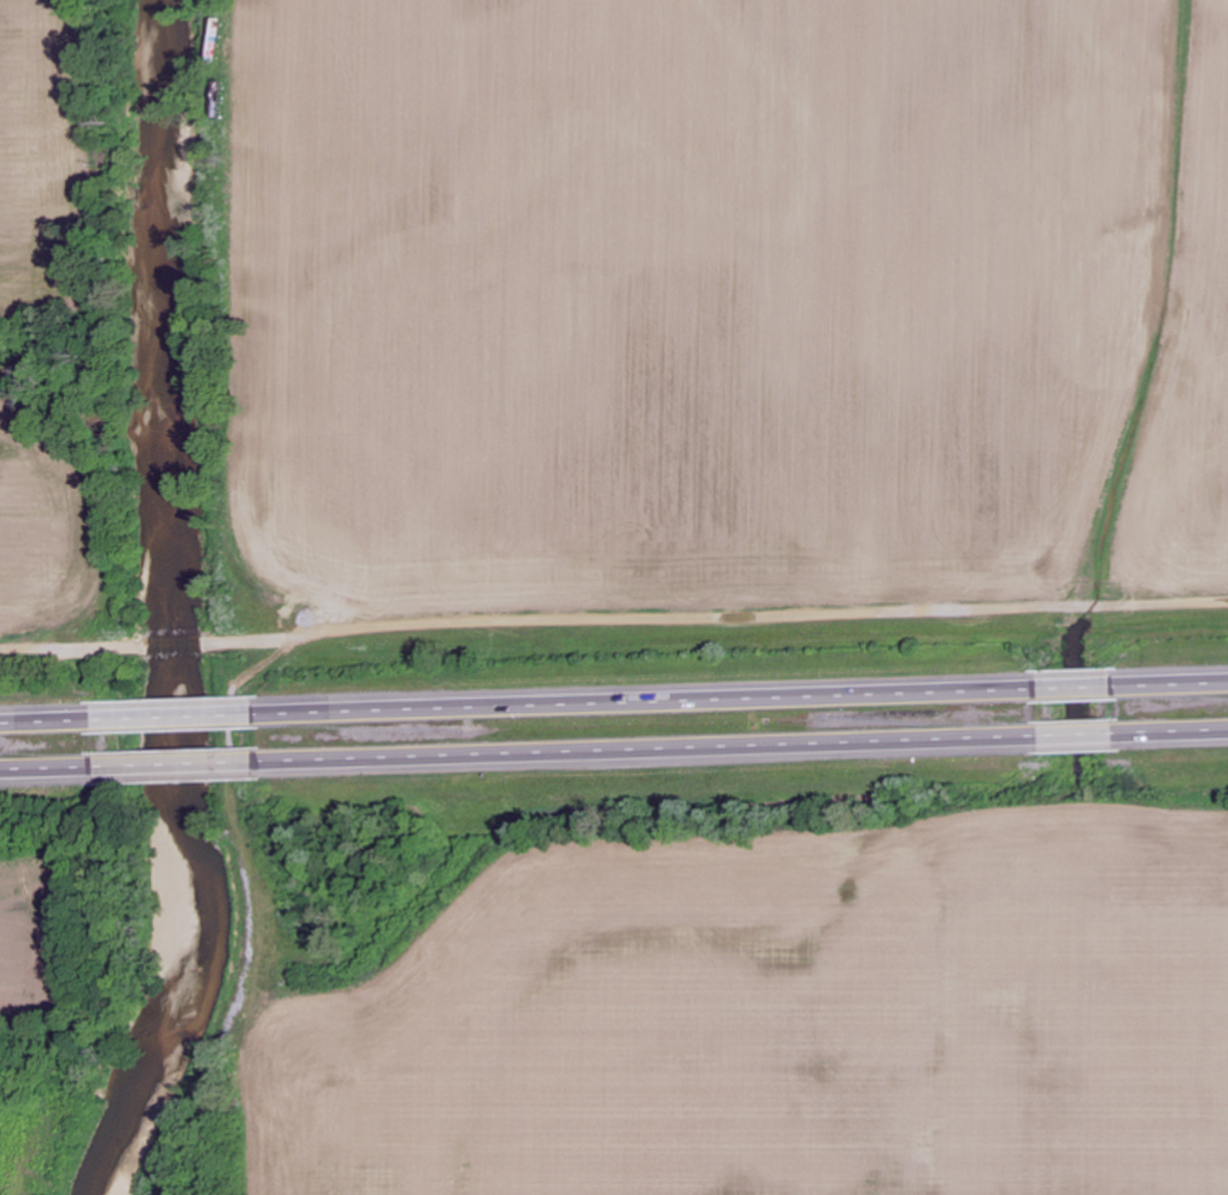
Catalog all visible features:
road: (1170, 679)
road: (1076, 683)
road: (647, 696)
road: (177, 712)
road: (49, 717)
road: (1173, 734)
road: (1079, 737)
road: (650, 752)
road: (178, 763)
road: (49, 766)

